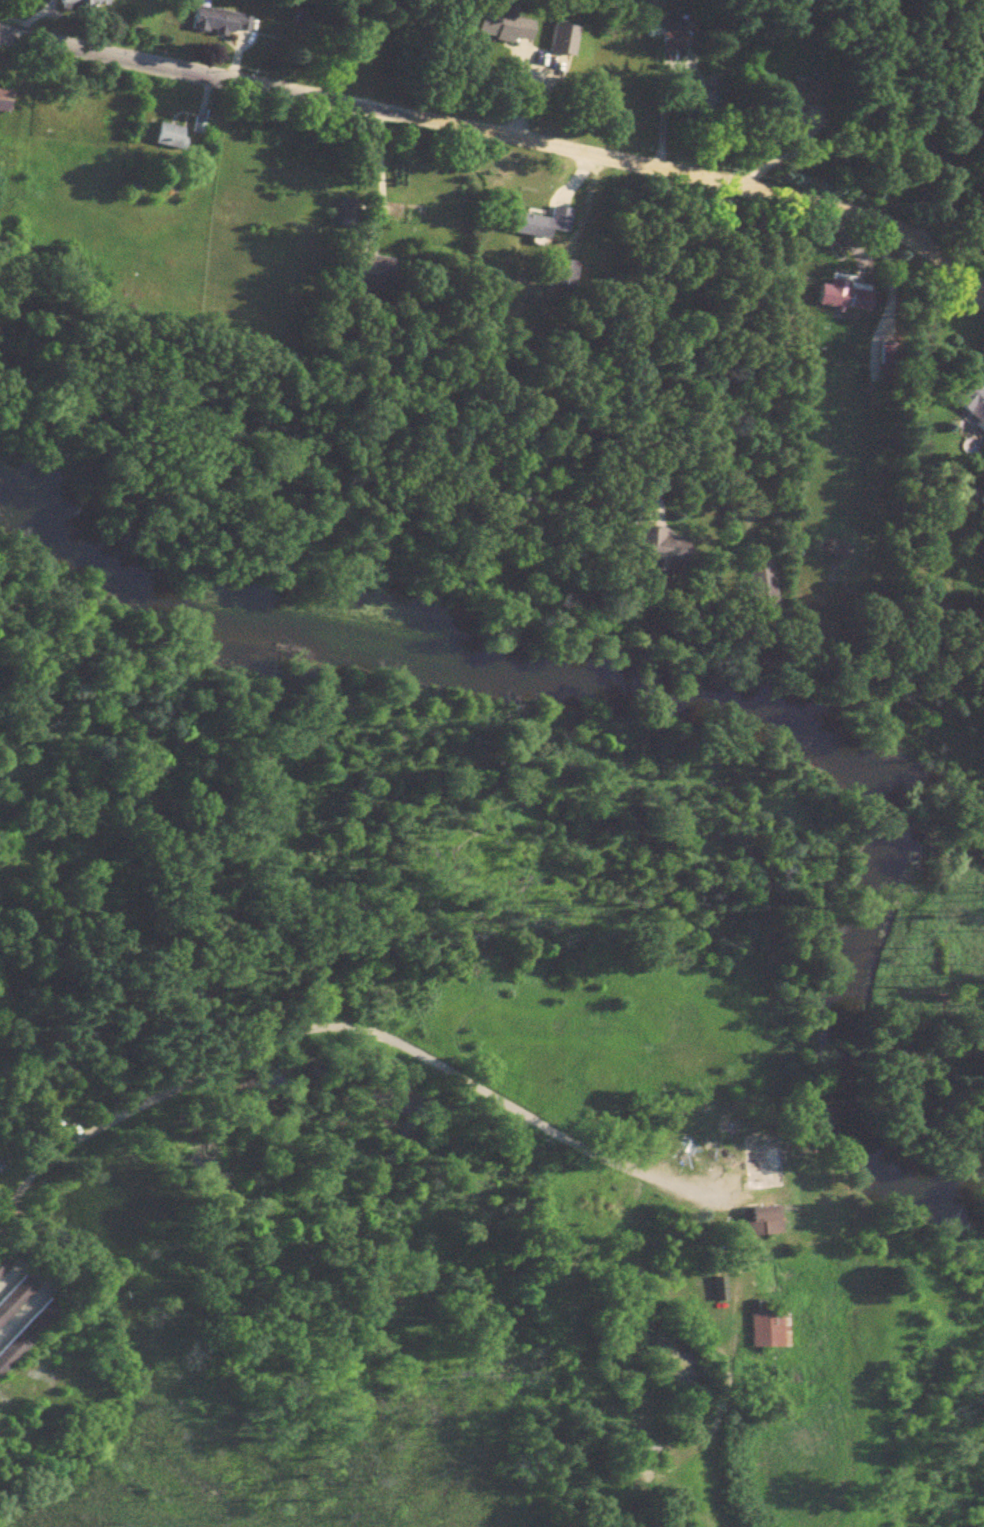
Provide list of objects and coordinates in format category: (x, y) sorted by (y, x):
building: (88, 6)
building: (229, 24)
building: (502, 31)
building: (665, 35)
building: (558, 44)
building: (792, 99)
building: (8, 104)
road: (504, 137)
building: (175, 140)
road: (377, 177)
building: (348, 212)
building: (542, 227)
building: (565, 278)
building: (375, 279)
building: (838, 300)
building: (969, 409)
building: (980, 506)
building: (665, 554)
building: (764, 584)
river: (678, 704)
road: (336, 1027)
building: (756, 1171)
building: (759, 1224)
building: (4, 1260)
road: (8, 1273)
building: (5, 1279)
building: (15, 1293)
building: (715, 1293)
road: (20, 1311)
building: (27, 1328)
building: (765, 1331)
building: (641, 1458)

